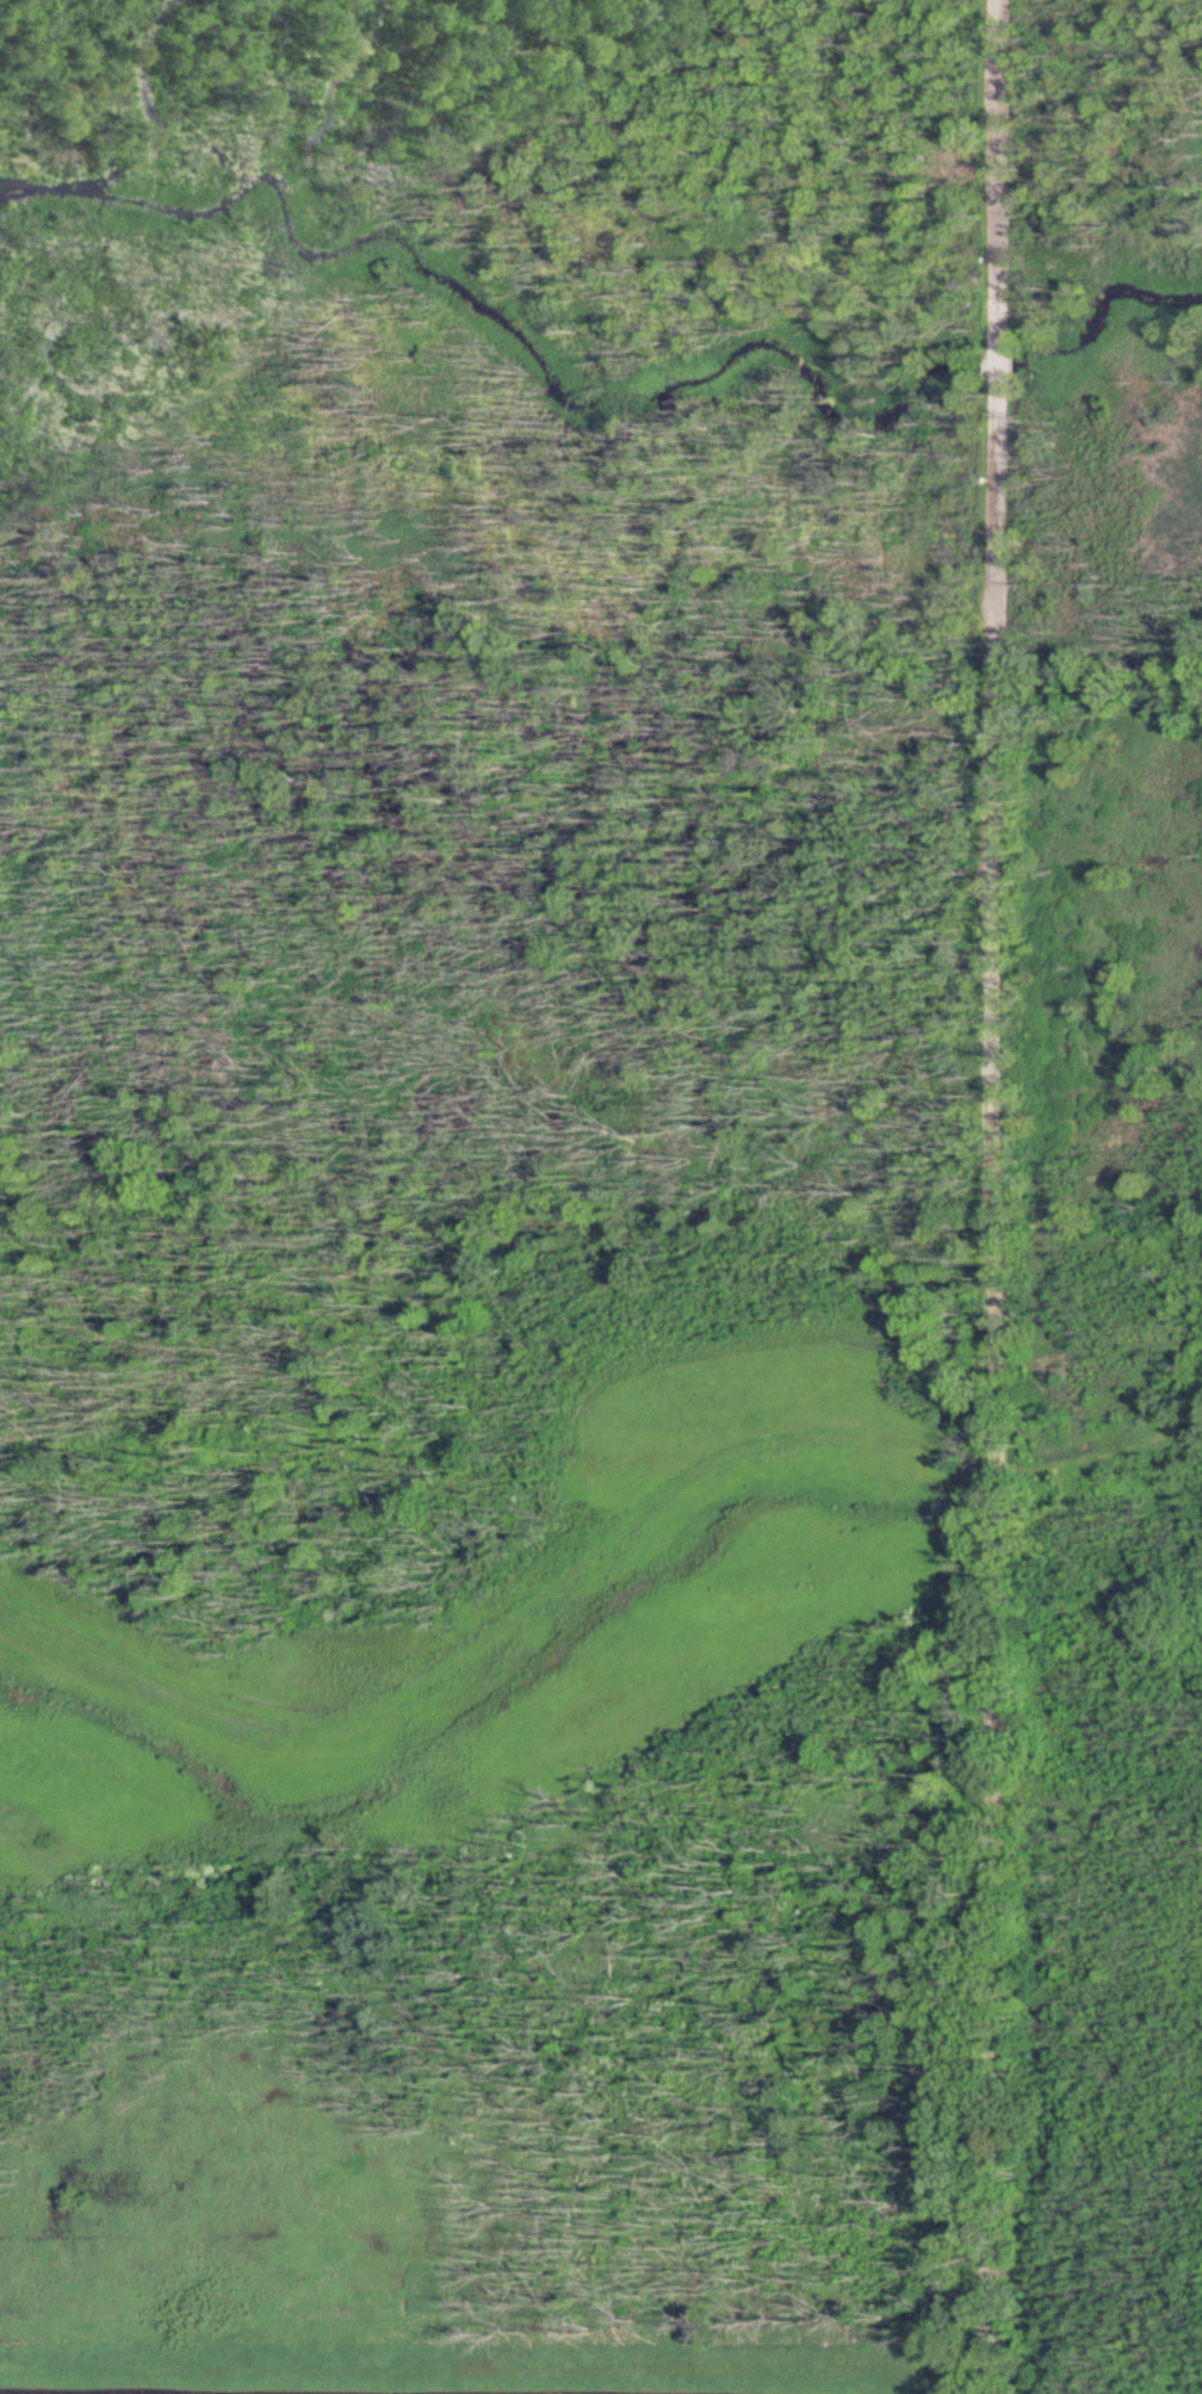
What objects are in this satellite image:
road: (999, 1197)

